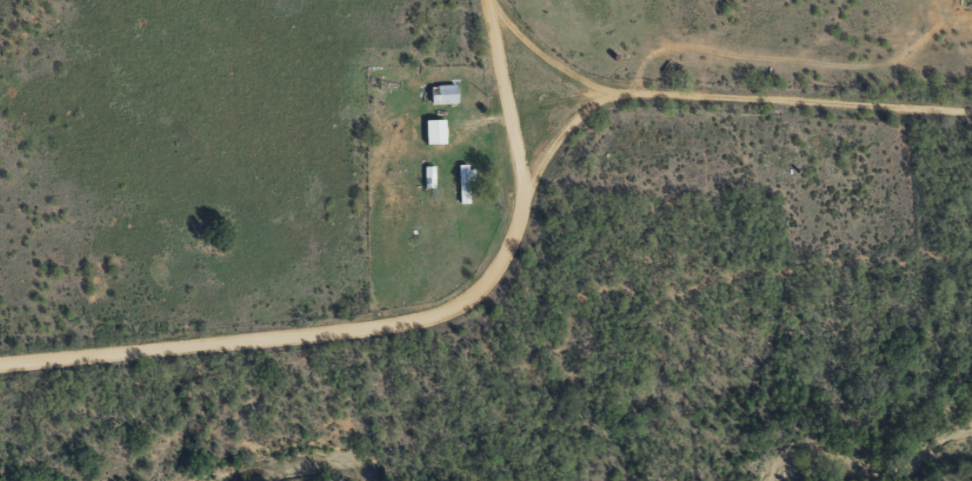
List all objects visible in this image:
road: (567, 43)
building: (446, 94)
road: (807, 100)
road: (513, 111)
road: (565, 130)
building: (436, 132)
building: (429, 176)
road: (292, 336)

